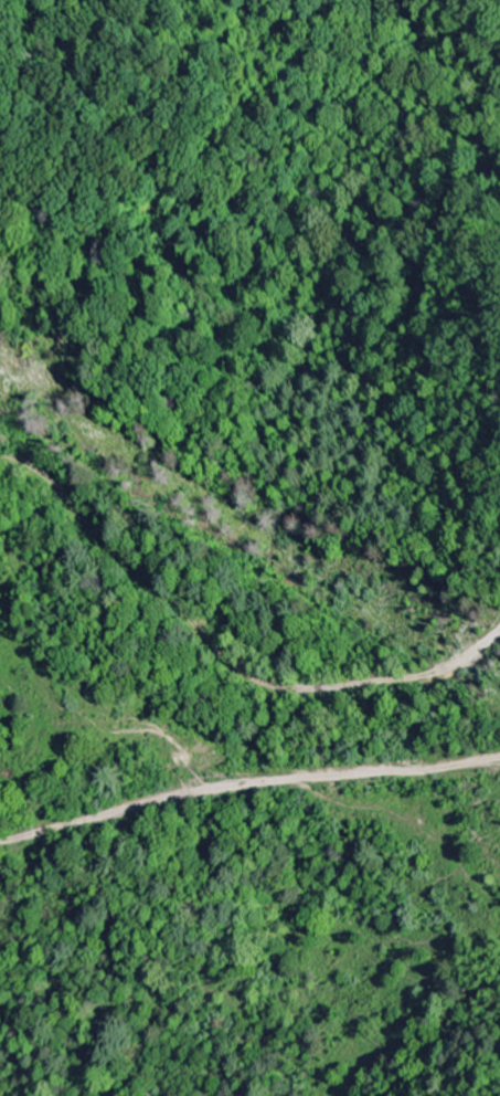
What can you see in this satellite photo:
road: (275, 792)

